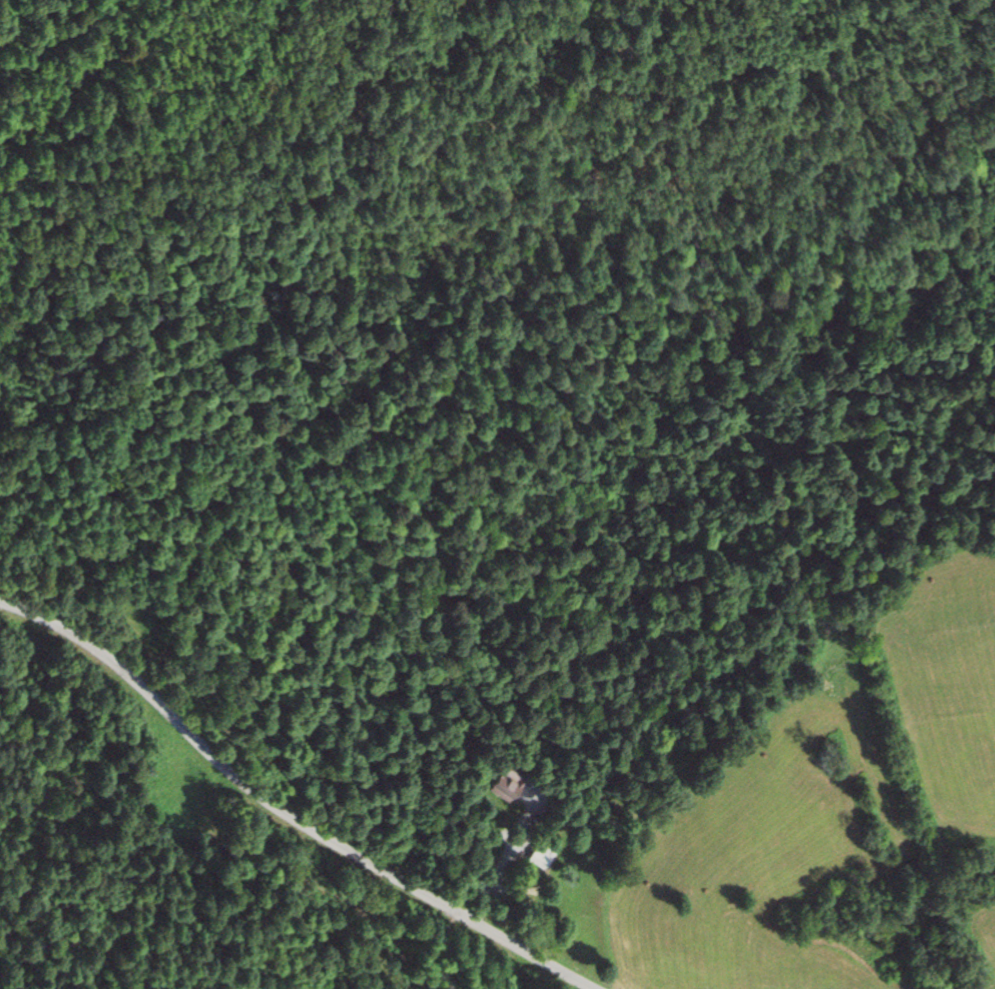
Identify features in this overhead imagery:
road: (285, 810)

